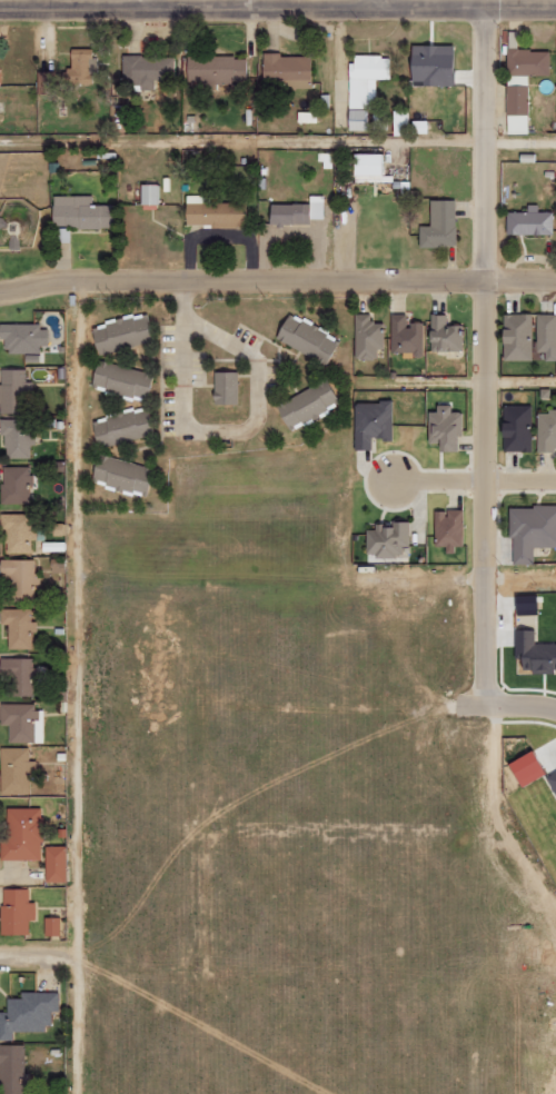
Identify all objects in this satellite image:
road: (143, 6)
road: (380, 6)
road: (278, 11)
building: (530, 62)
building: (435, 64)
building: (83, 66)
building: (148, 69)
building: (218, 69)
building: (291, 69)
building: (1, 76)
building: (367, 78)
building: (48, 81)
building: (520, 109)
building: (358, 119)
road: (238, 142)
road: (516, 142)
building: (152, 193)
building: (299, 211)
building: (83, 212)
building: (218, 212)
building: (533, 221)
building: (441, 225)
road: (277, 280)
building: (123, 330)
building: (447, 335)
building: (548, 335)
building: (27, 337)
building: (369, 337)
building: (408, 337)
building: (519, 337)
building: (306, 338)
road: (475, 358)
building: (125, 375)
road: (453, 376)
building: (225, 385)
building: (13, 390)
building: (308, 399)
building: (370, 419)
building: (444, 422)
building: (515, 424)
building: (123, 426)
road: (221, 426)
building: (546, 428)
building: (19, 437)
building: (120, 469)
road: (474, 480)
building: (17, 485)
building: (447, 525)
building: (530, 527)
building: (20, 533)
building: (388, 536)
road: (463, 574)
building: (21, 578)
building: (20, 626)
building: (535, 652)
building: (20, 674)
road: (73, 688)
road: (506, 707)
building: (23, 723)
building: (532, 769)
building: (18, 770)
building: (554, 779)
road: (505, 810)
building: (24, 833)
building: (58, 864)
building: (19, 912)
building: (54, 926)
road: (36, 953)
building: (30, 1013)
building: (13, 1070)

